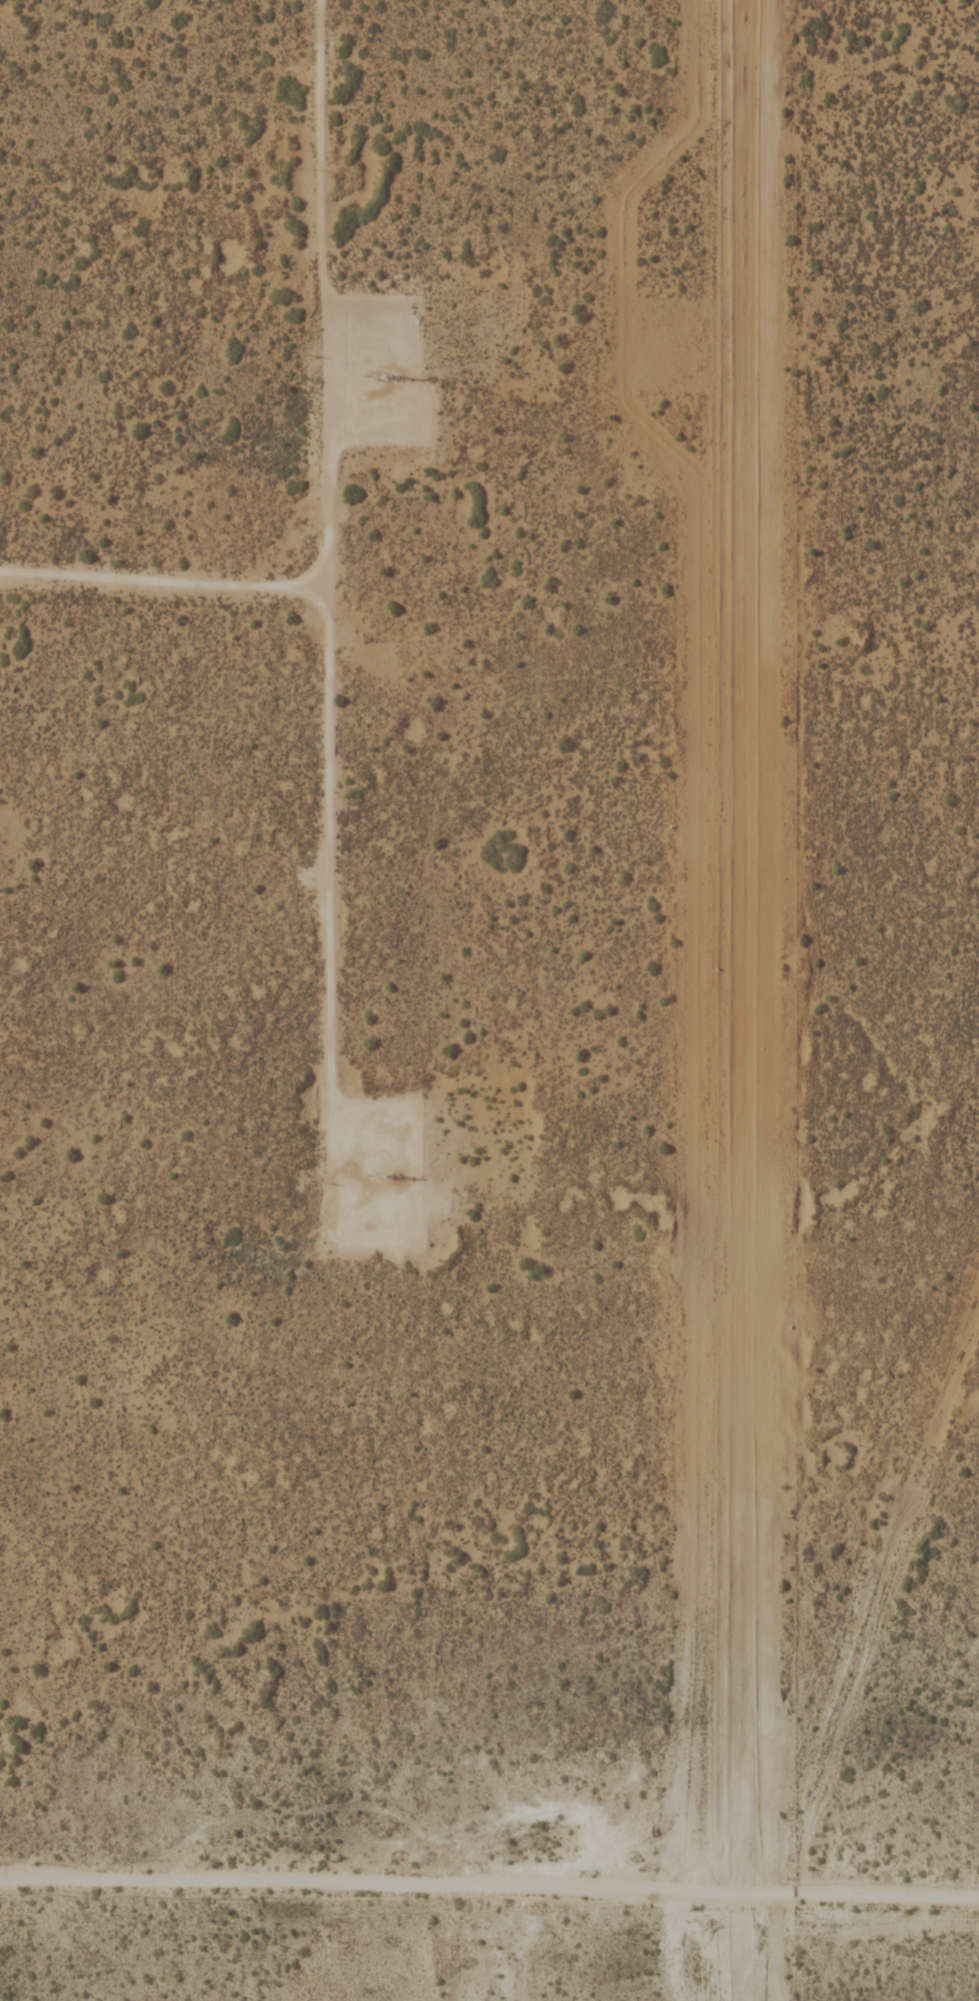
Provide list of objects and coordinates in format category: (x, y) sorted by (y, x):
petroleum well: (374, 369)
road: (334, 452)
petroleum well: (377, 1161)
road: (398, 1883)
road: (888, 1891)

